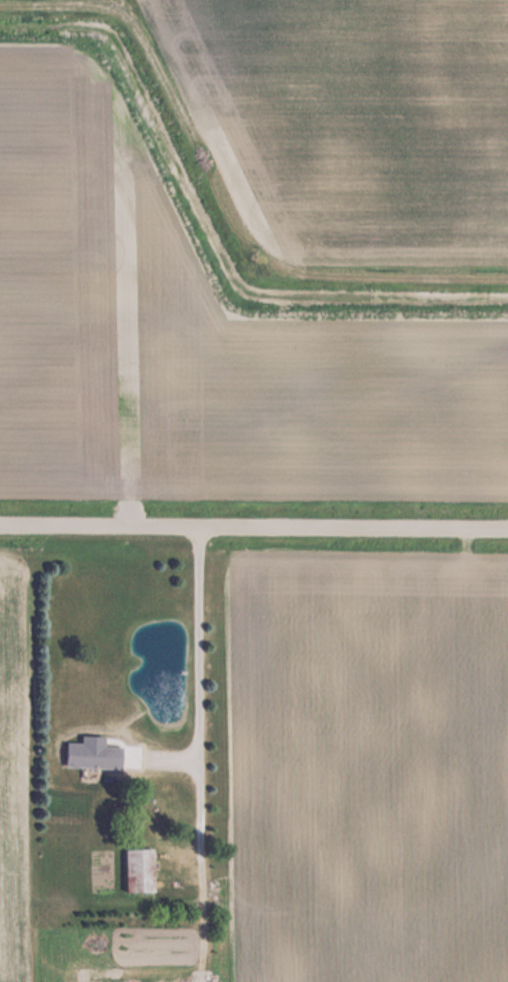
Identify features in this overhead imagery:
road: (254, 523)
building: (93, 756)
building: (139, 870)
building: (156, 969)

